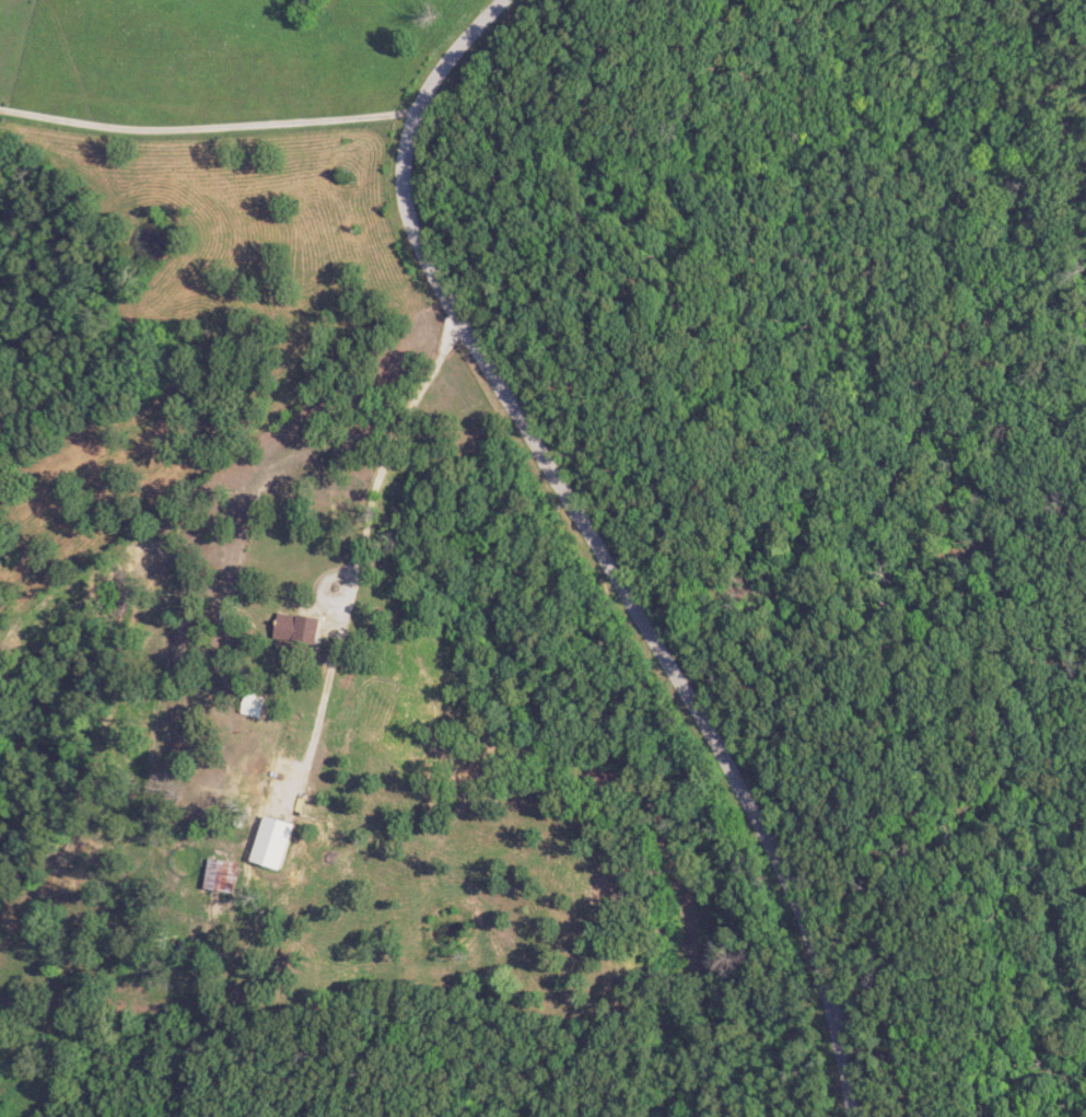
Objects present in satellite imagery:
road: (210, 125)
road: (401, 440)
road: (600, 546)
building: (304, 628)
building: (279, 842)
building: (225, 875)
road: (892, 1060)

